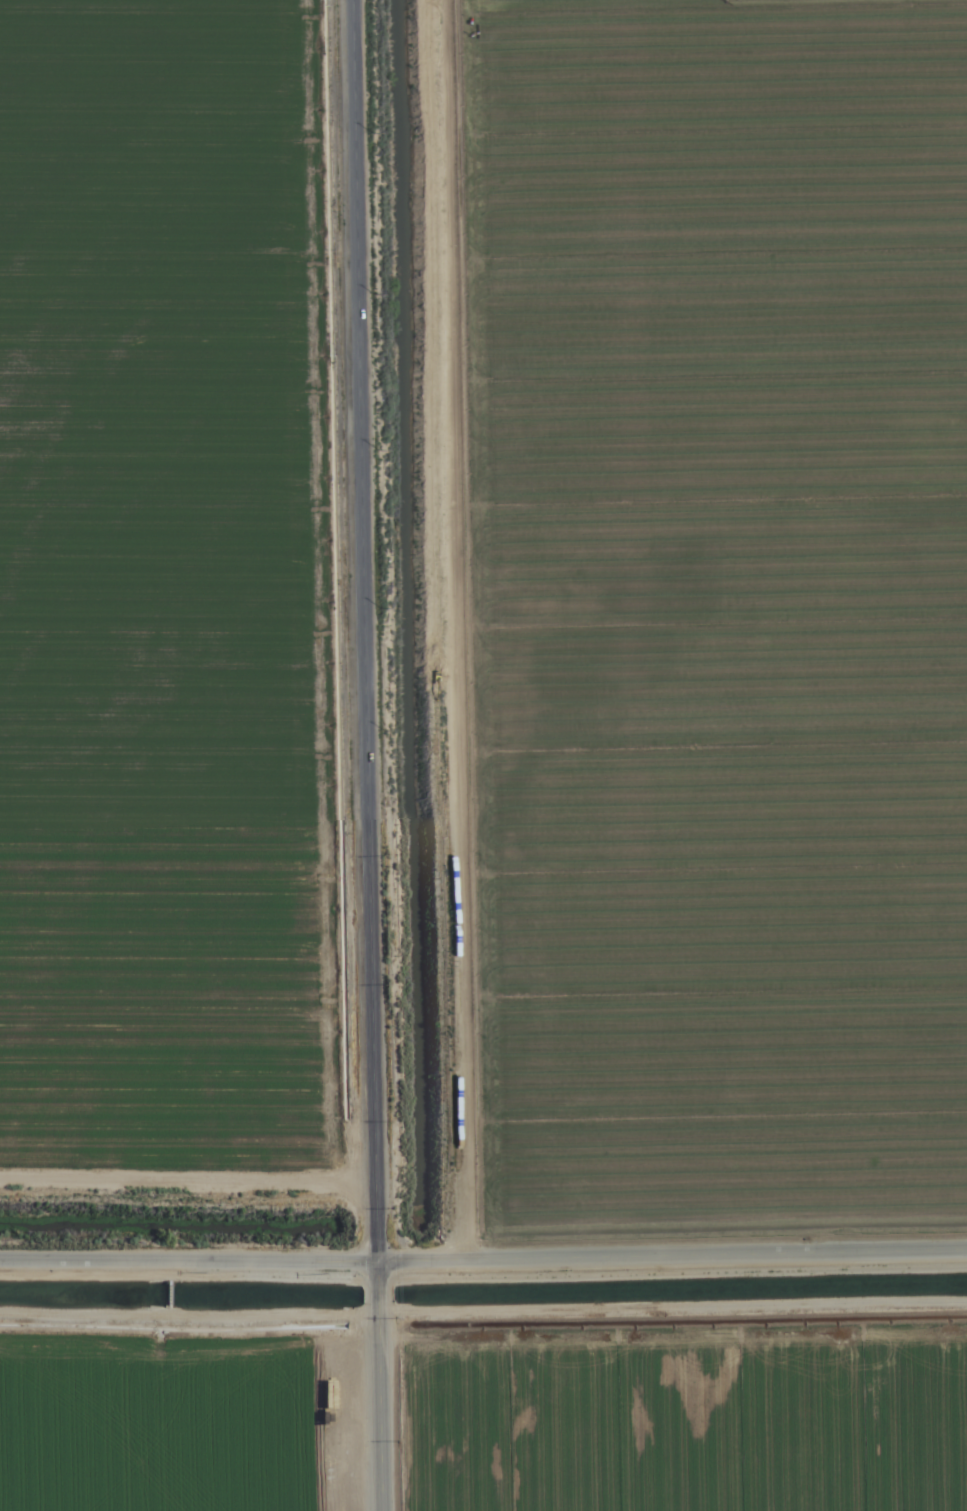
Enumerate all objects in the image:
road: (363, 580)
road: (373, 1222)
road: (483, 1259)
road: (376, 1297)
road: (377, 1411)

